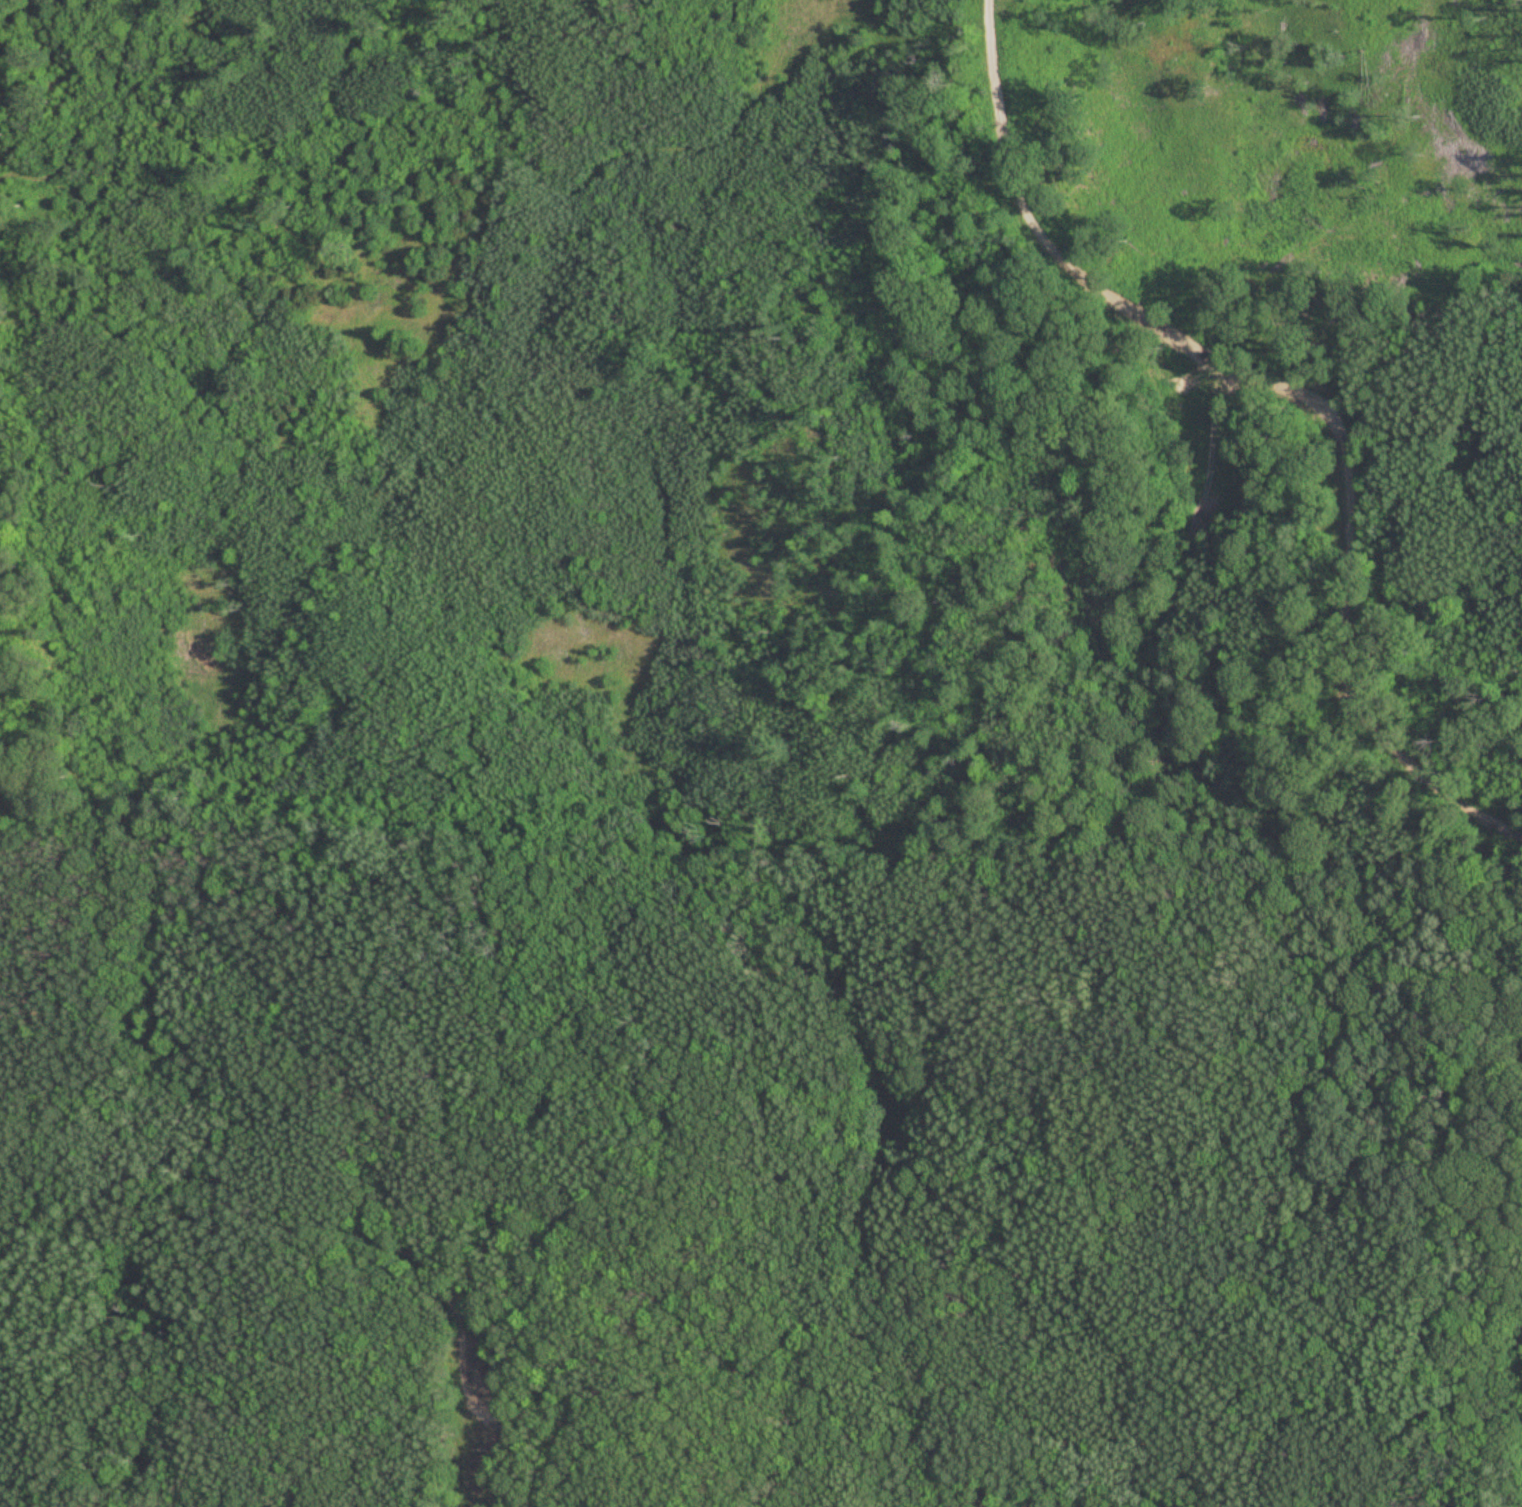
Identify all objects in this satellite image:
road: (122, 323)
road: (1297, 392)
road: (1152, 1421)

